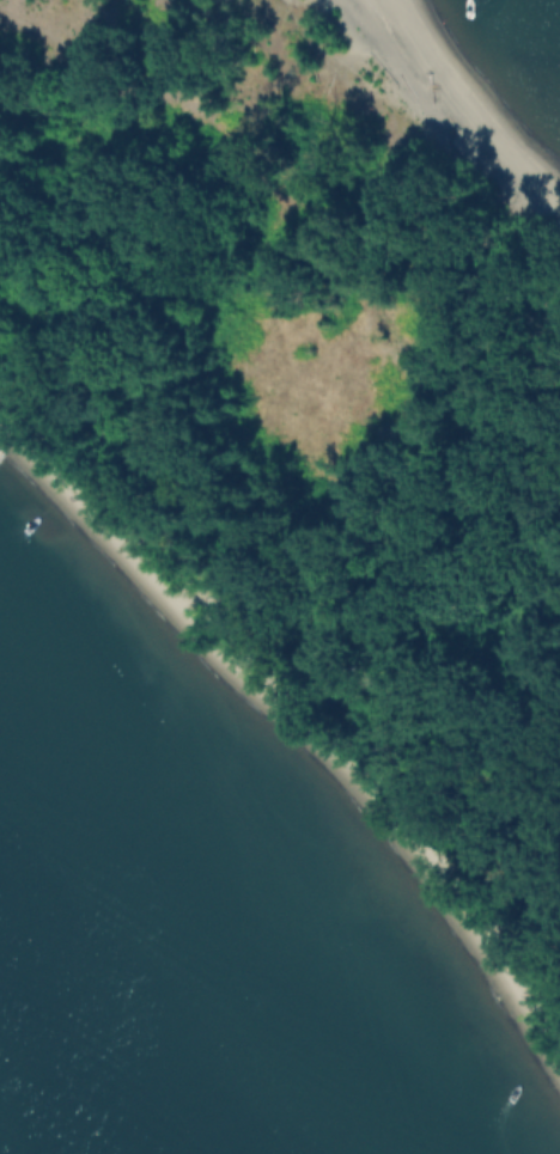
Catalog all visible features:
road: (268, 188)
river: (41, 1110)

